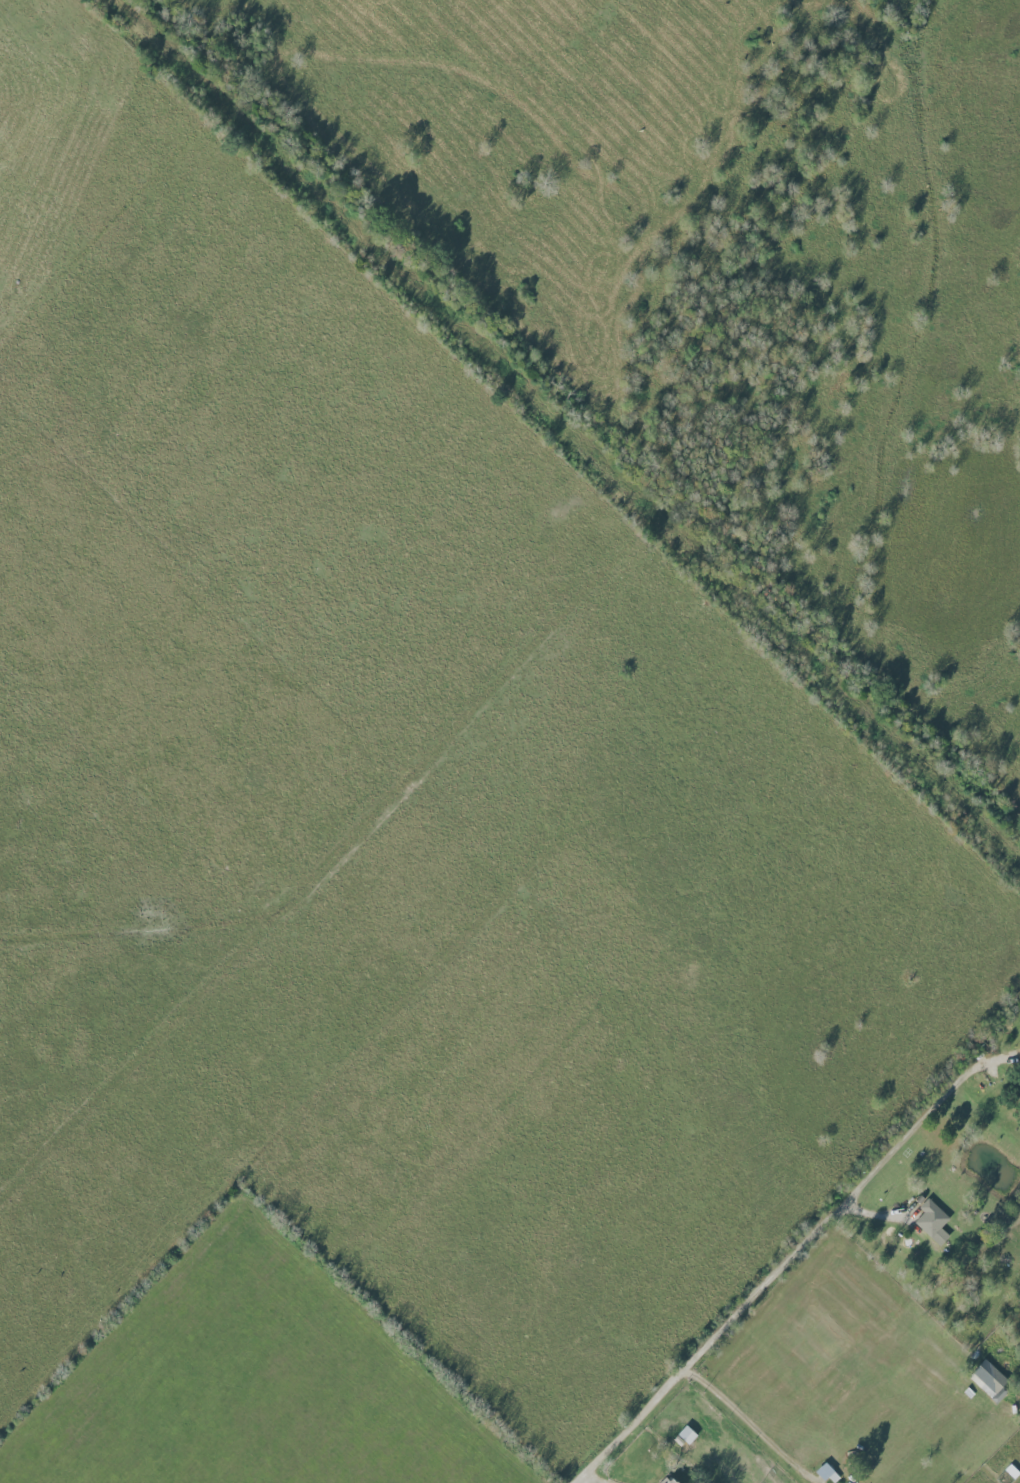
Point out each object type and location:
building: (933, 1221)
road: (776, 1274)
building: (990, 1380)
road: (750, 1425)
building: (687, 1434)
building: (1012, 1470)
building: (671, 1481)

